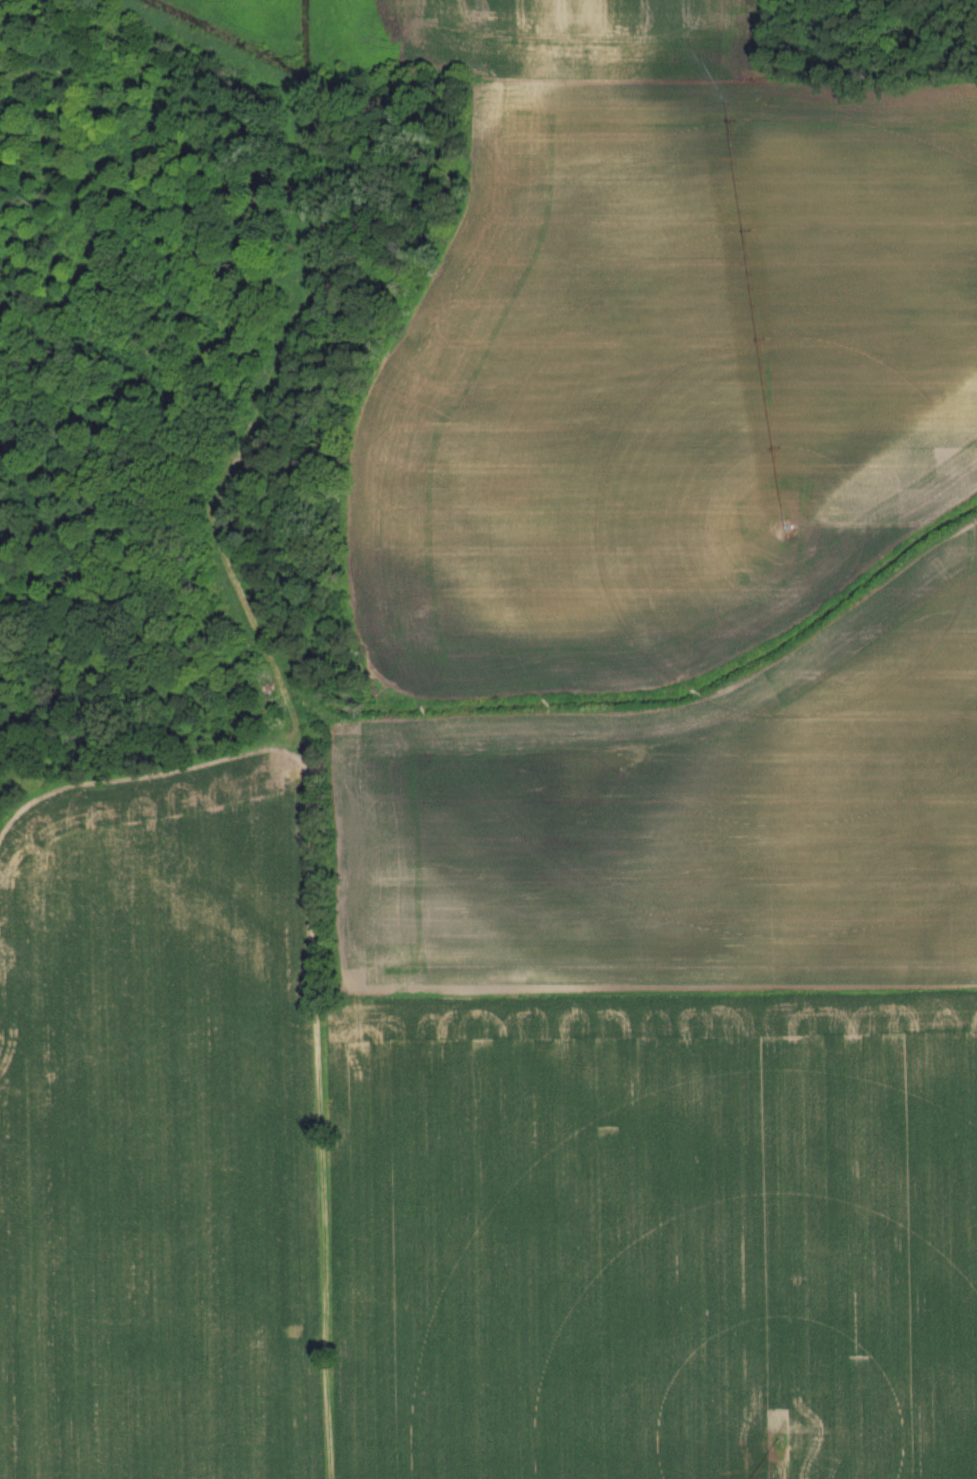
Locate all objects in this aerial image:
crop: (230, 8)
crop: (661, 355)
crop: (664, 1071)
crop: (167, 1130)

